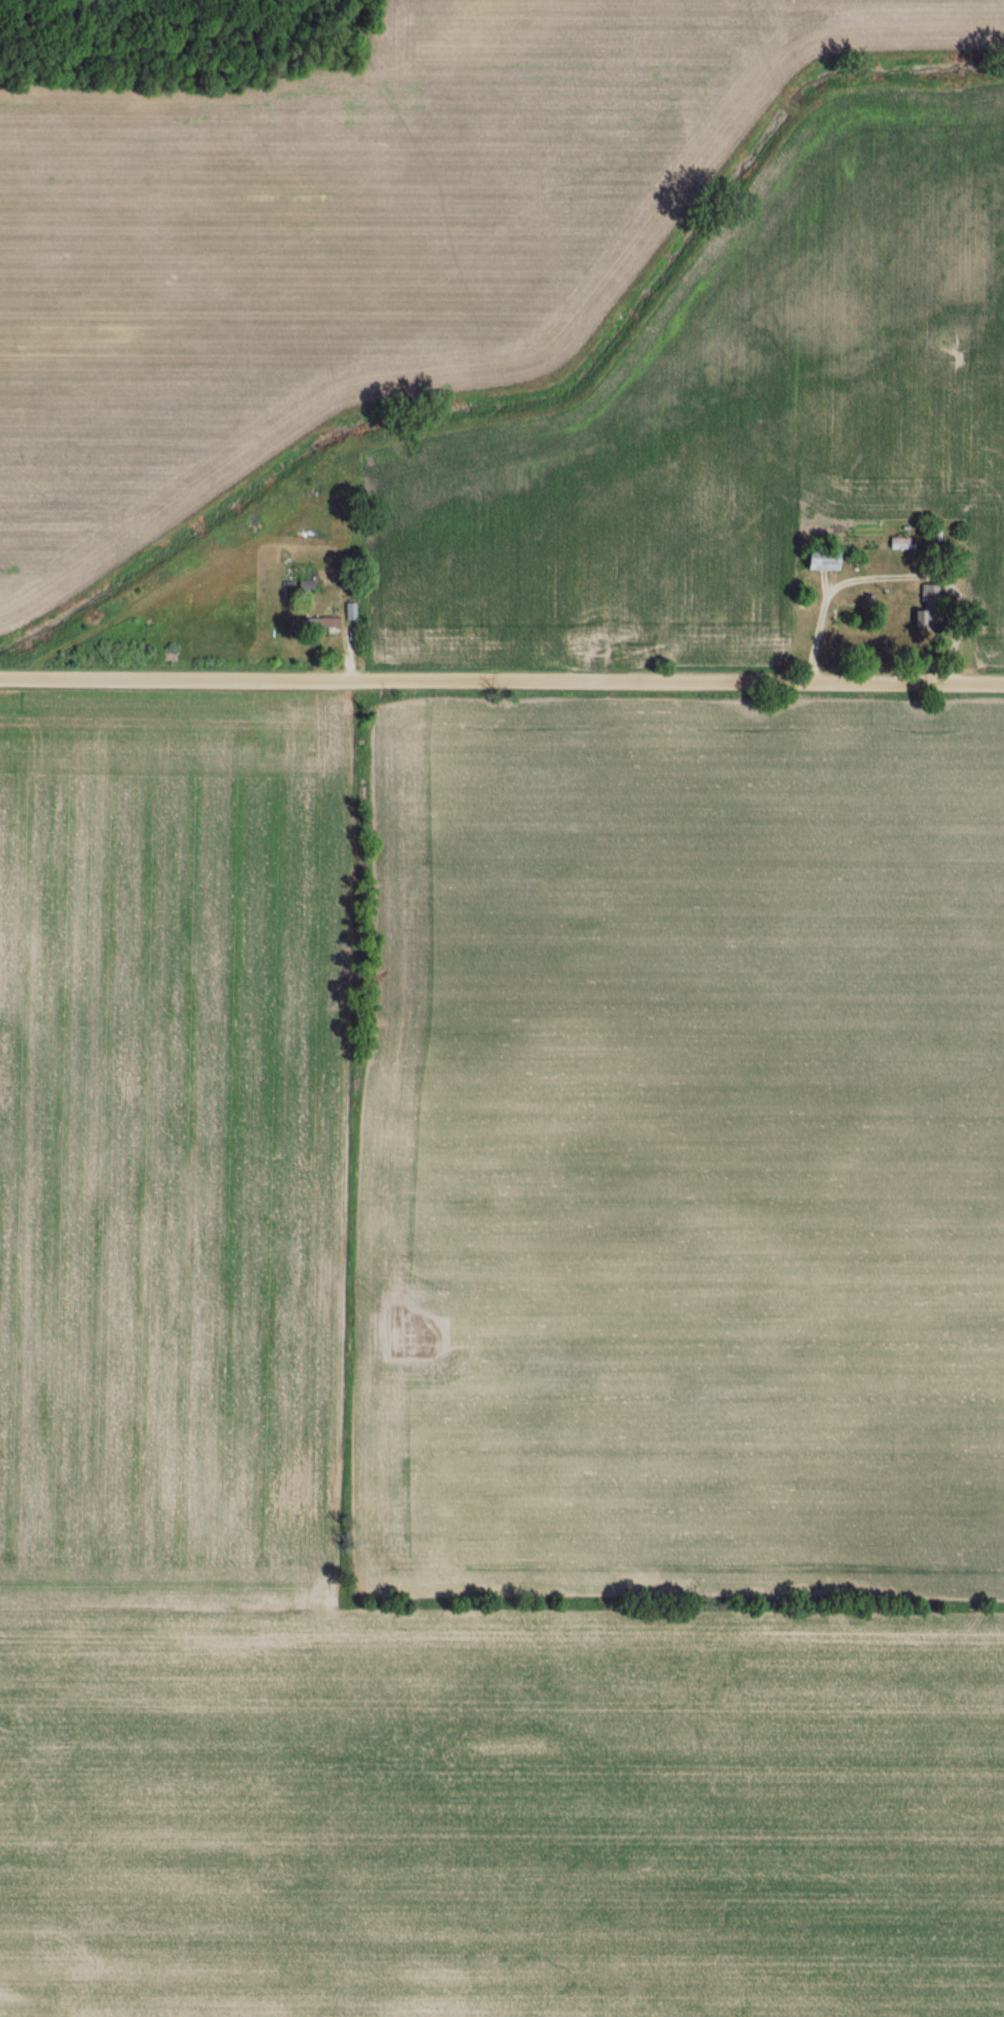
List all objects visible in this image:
building: (902, 544)
building: (821, 559)
road: (896, 575)
building: (305, 584)
building: (927, 609)
building: (350, 611)
building: (314, 624)
road: (501, 681)

